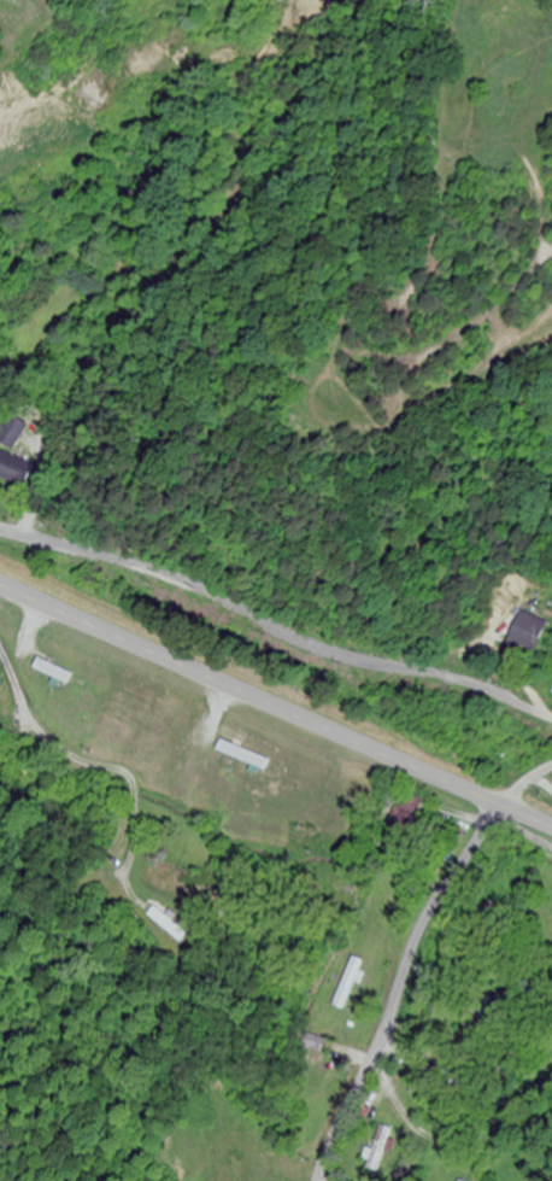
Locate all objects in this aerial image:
building: (10, 433)
building: (13, 470)
road: (275, 630)
building: (529, 632)
road: (275, 707)
building: (404, 818)
road: (523, 832)
building: (168, 925)
road: (409, 957)
building: (347, 984)
building: (377, 1152)

